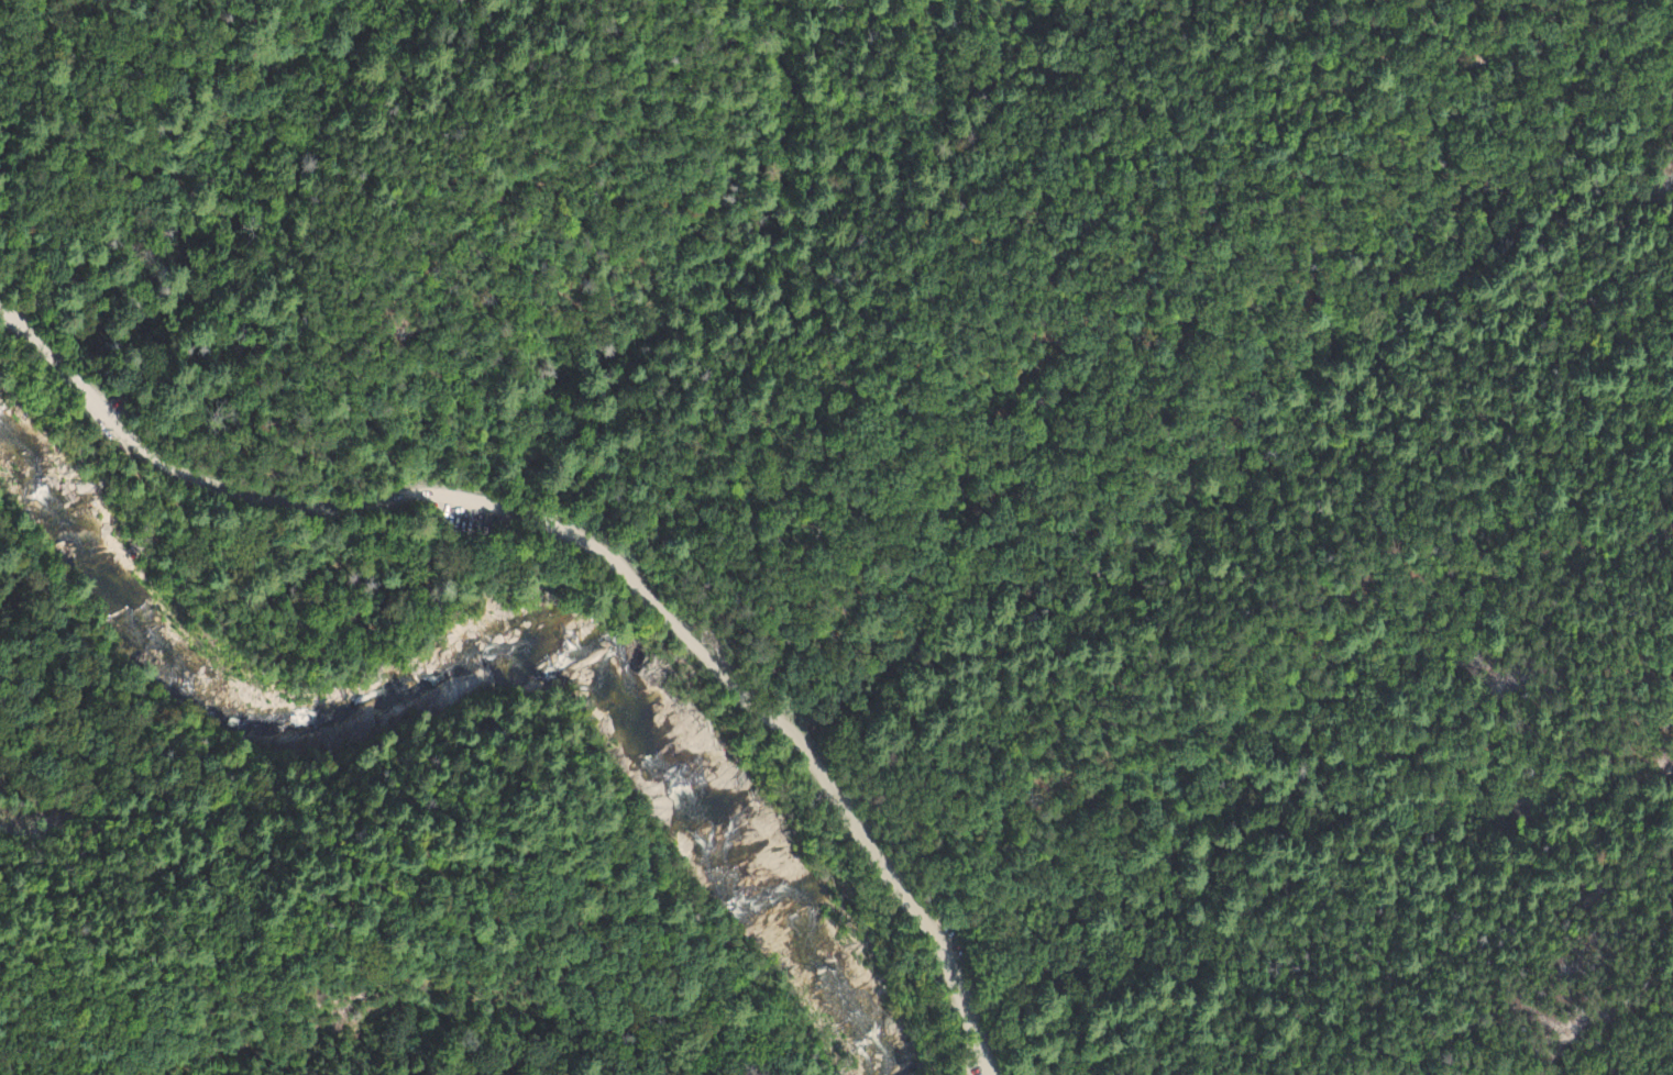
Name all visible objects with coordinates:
road: (269, 317)
road: (463, 512)
parking lot: (462, 520)
road: (586, 551)
river: (223, 713)
river: (734, 860)

